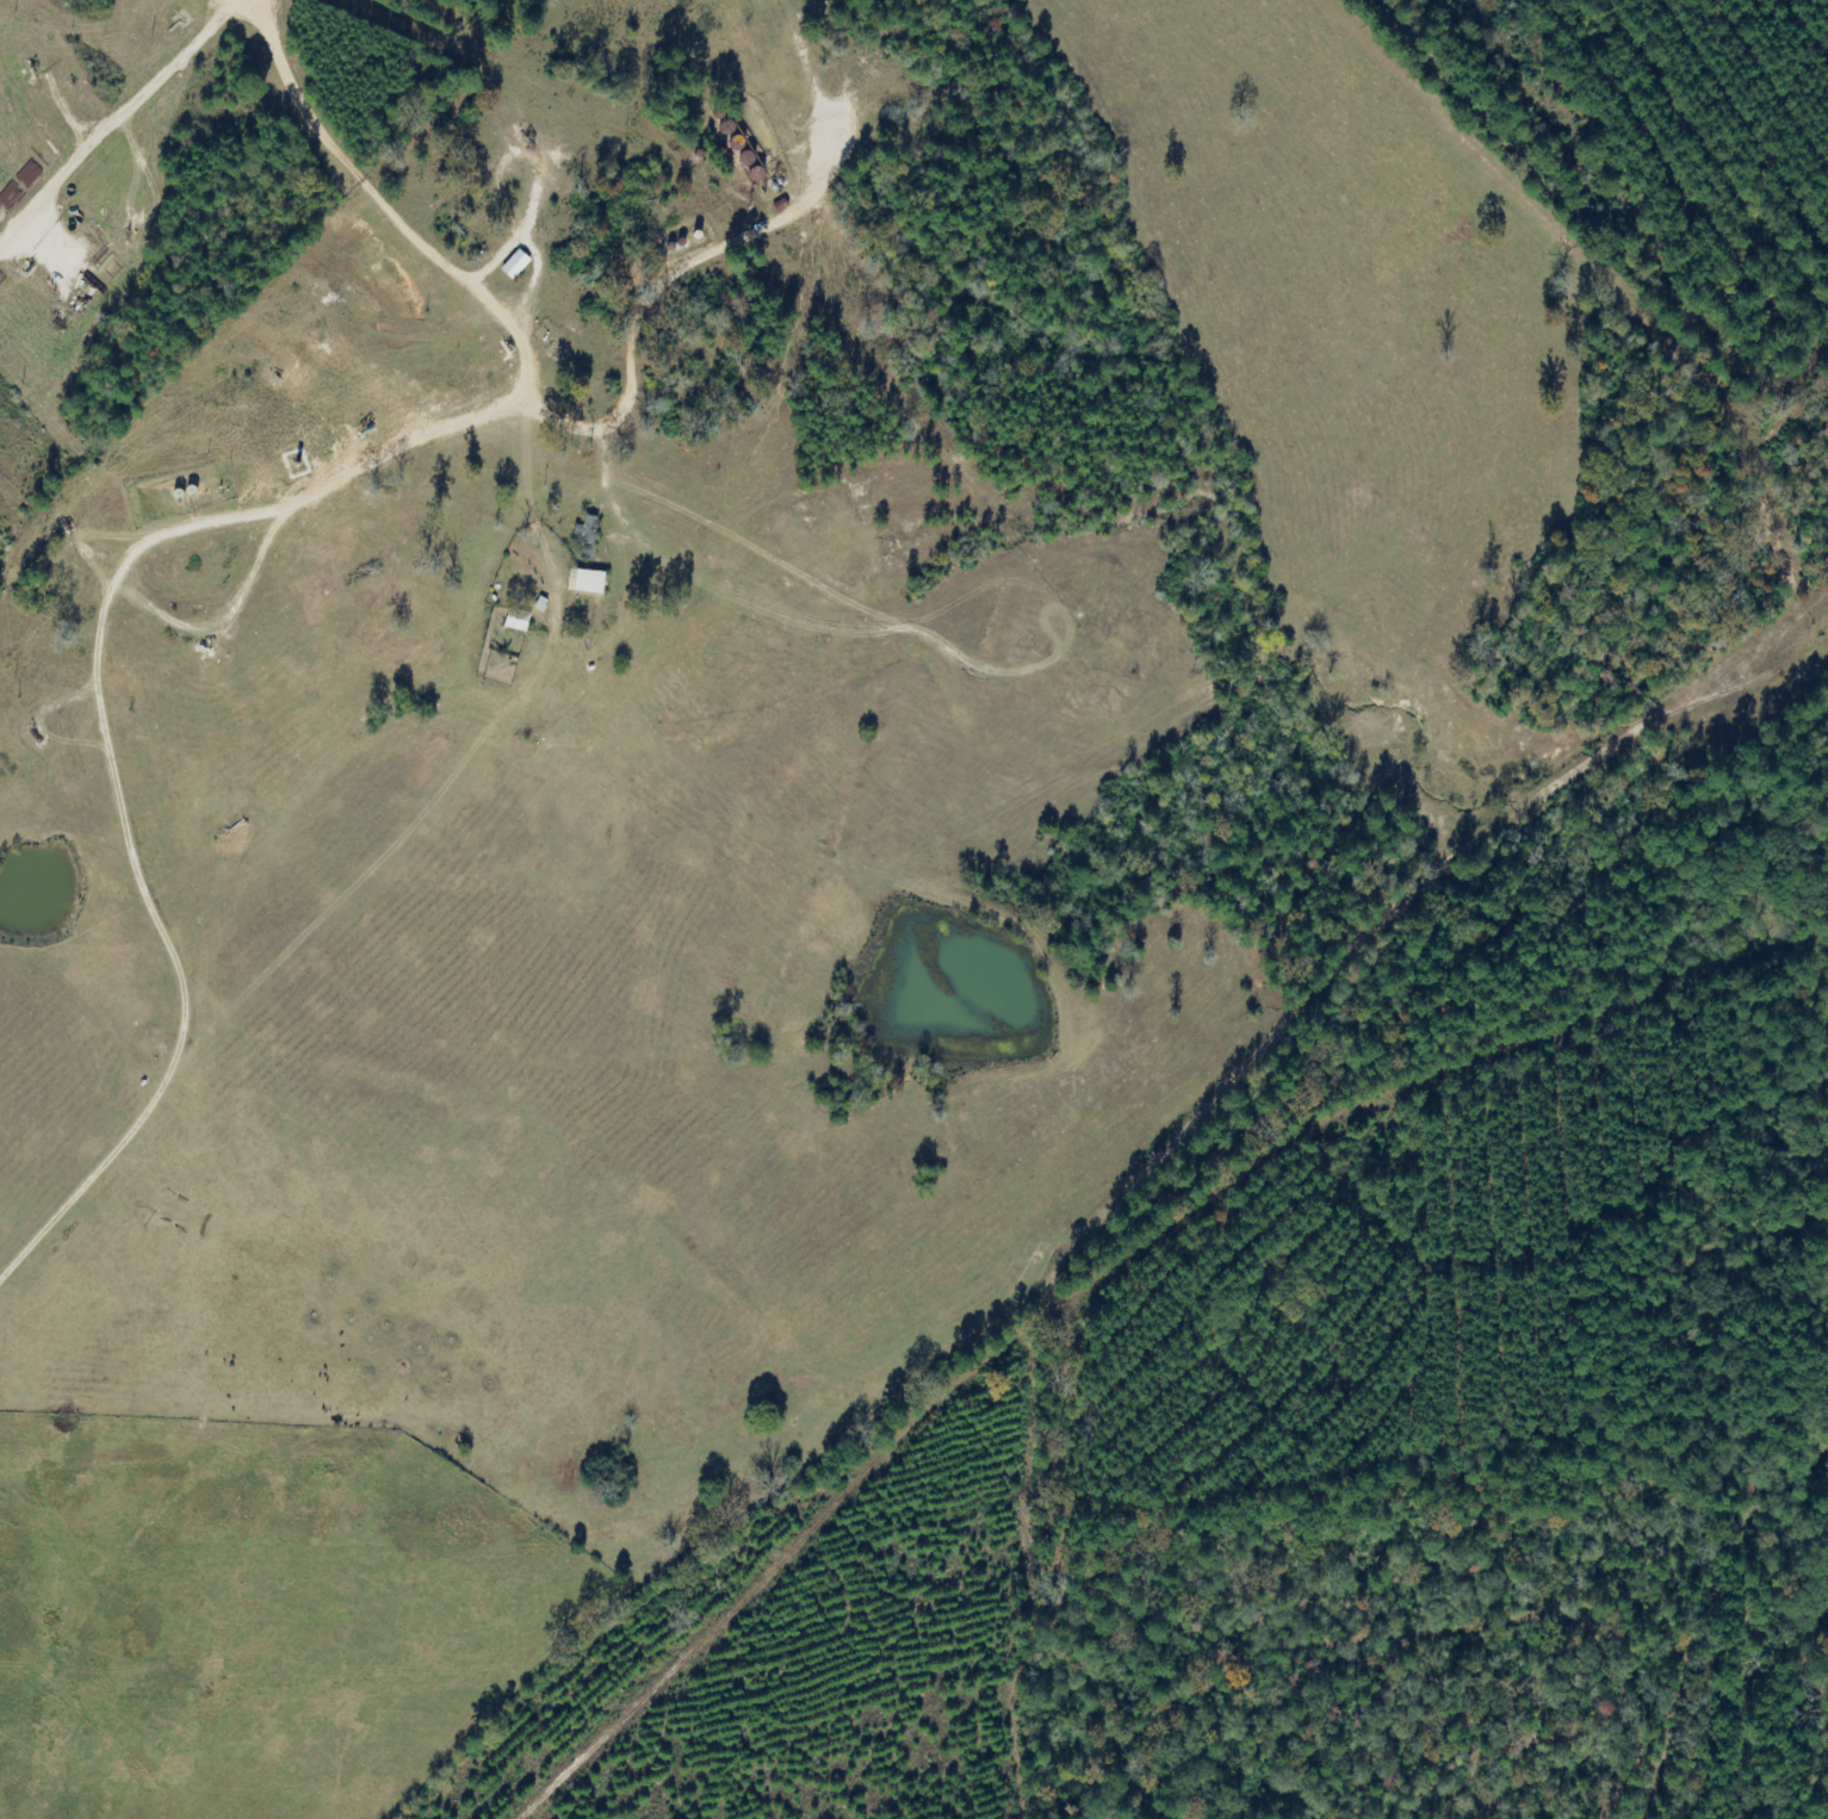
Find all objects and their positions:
road: (297, 45)
road: (132, 128)
building: (521, 265)
road: (732, 290)
road: (640, 429)
road: (390, 461)
building: (595, 583)
building: (521, 621)

